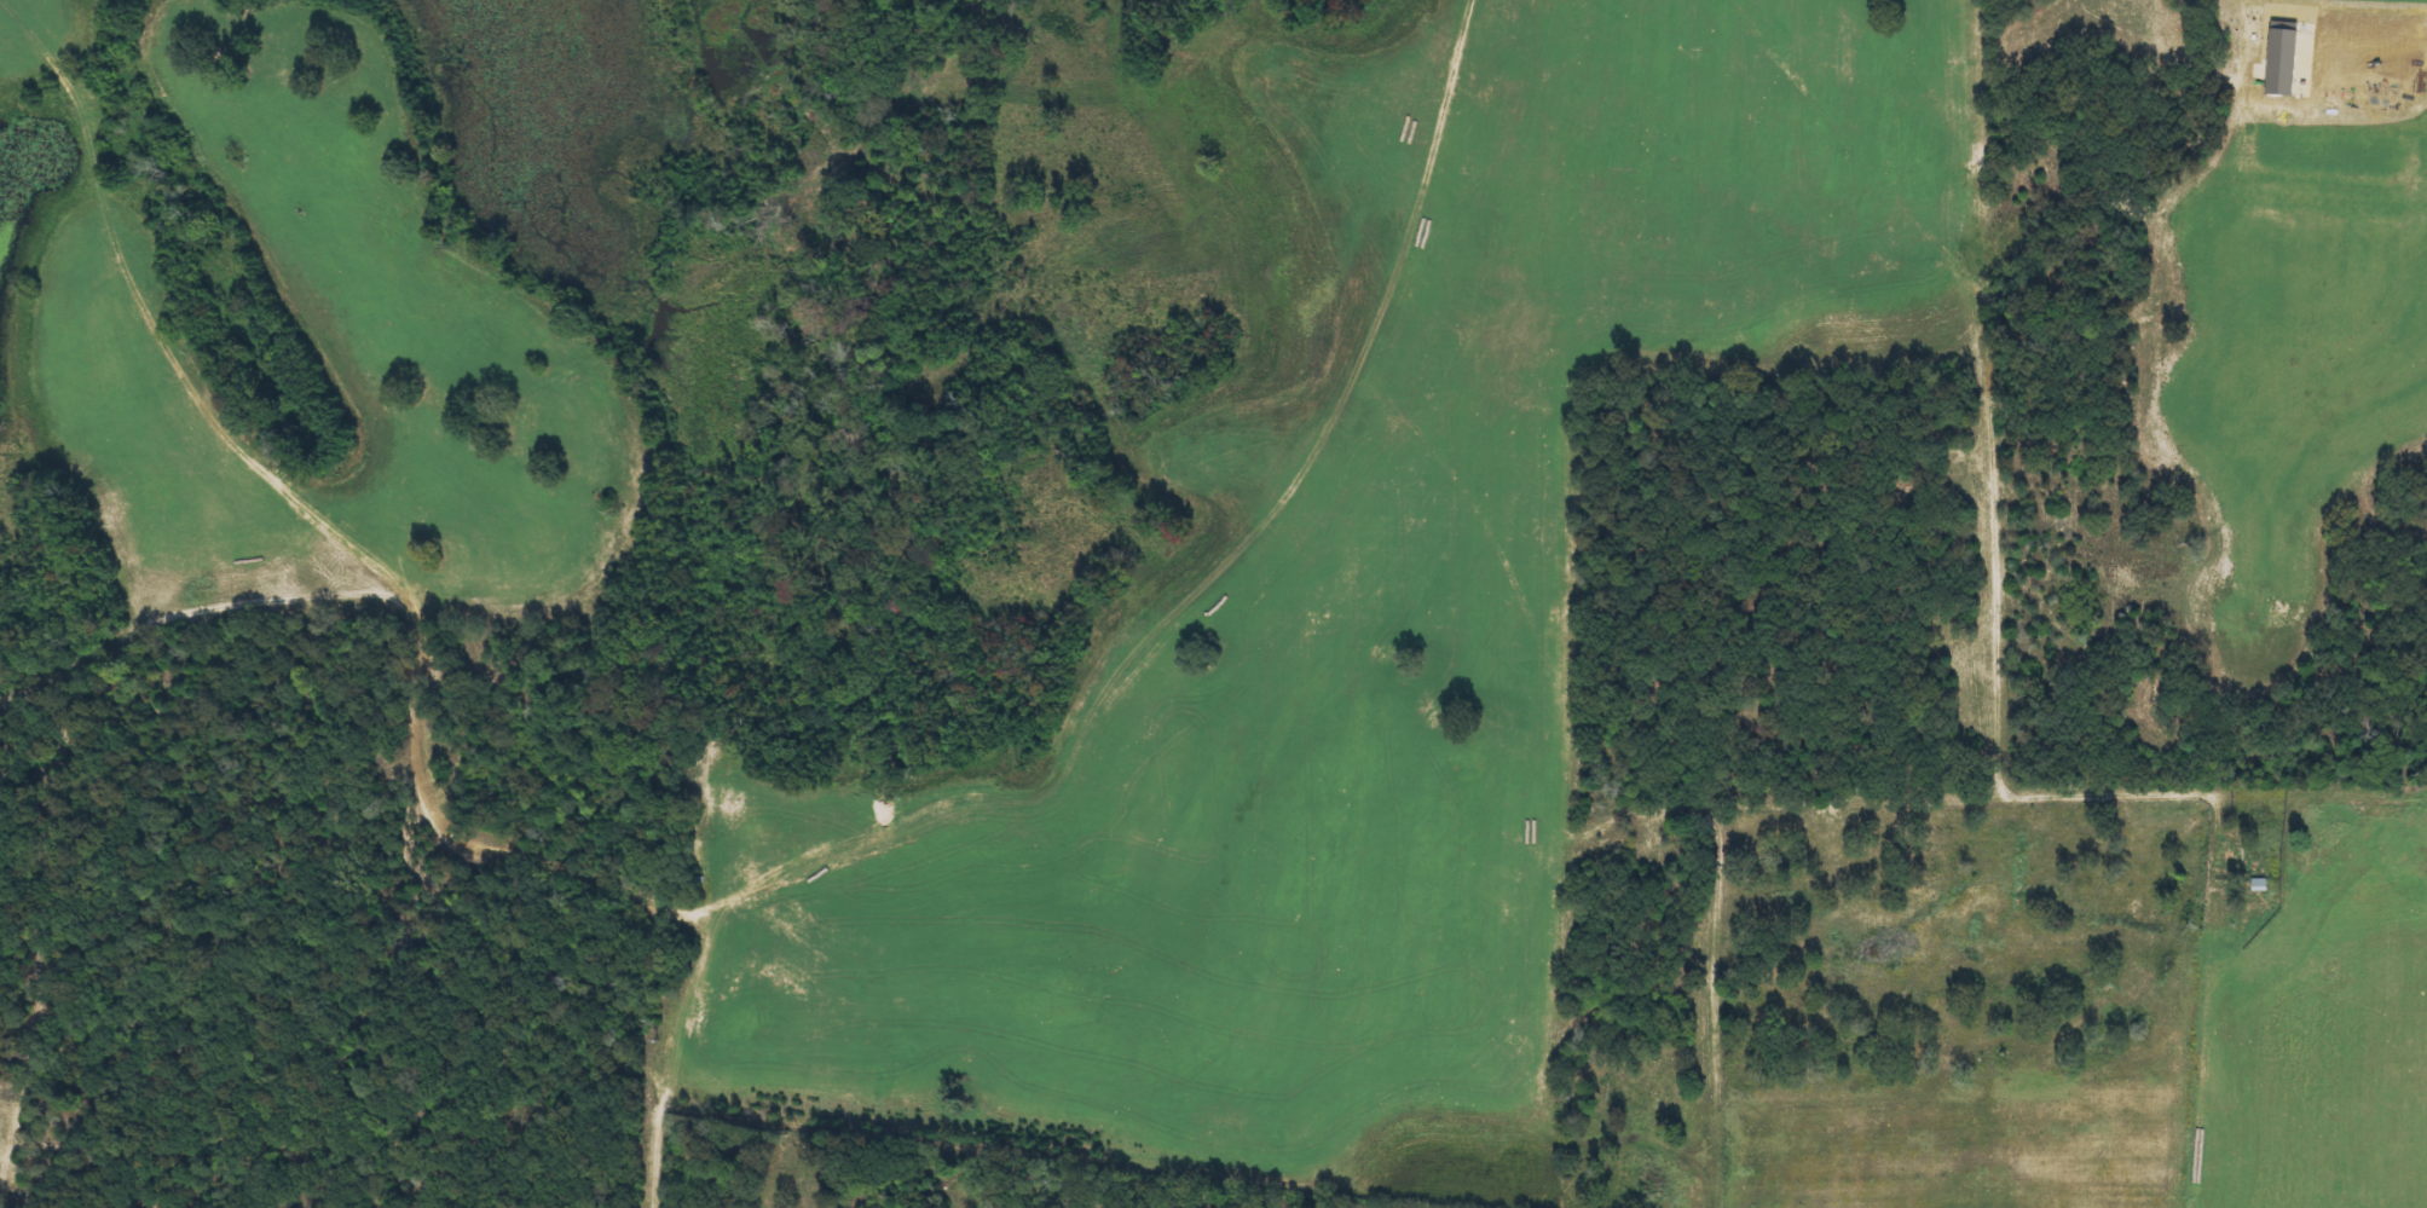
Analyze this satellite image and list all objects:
building: (2290, 63)

